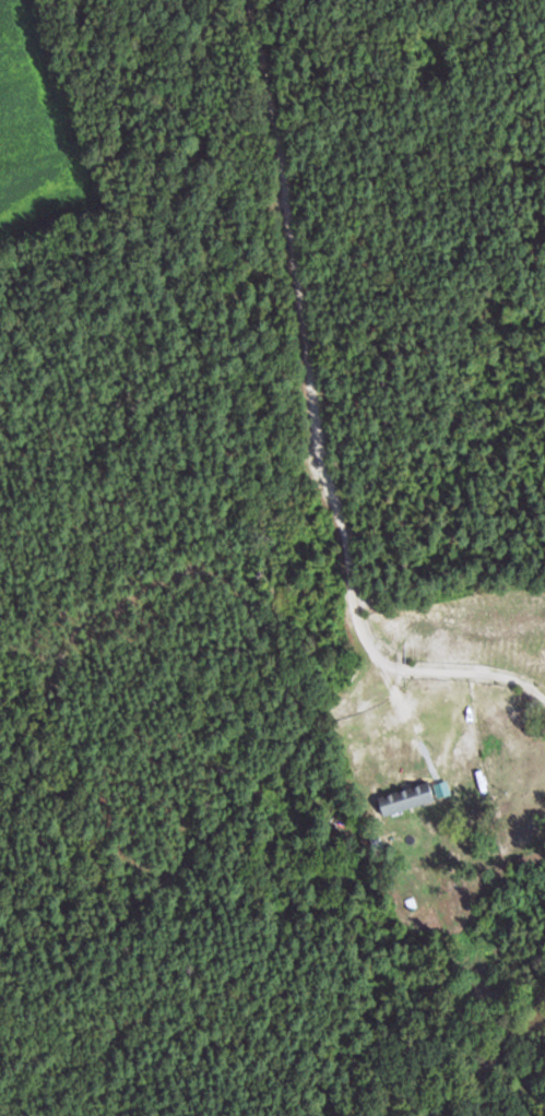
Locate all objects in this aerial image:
building: (405, 798)

